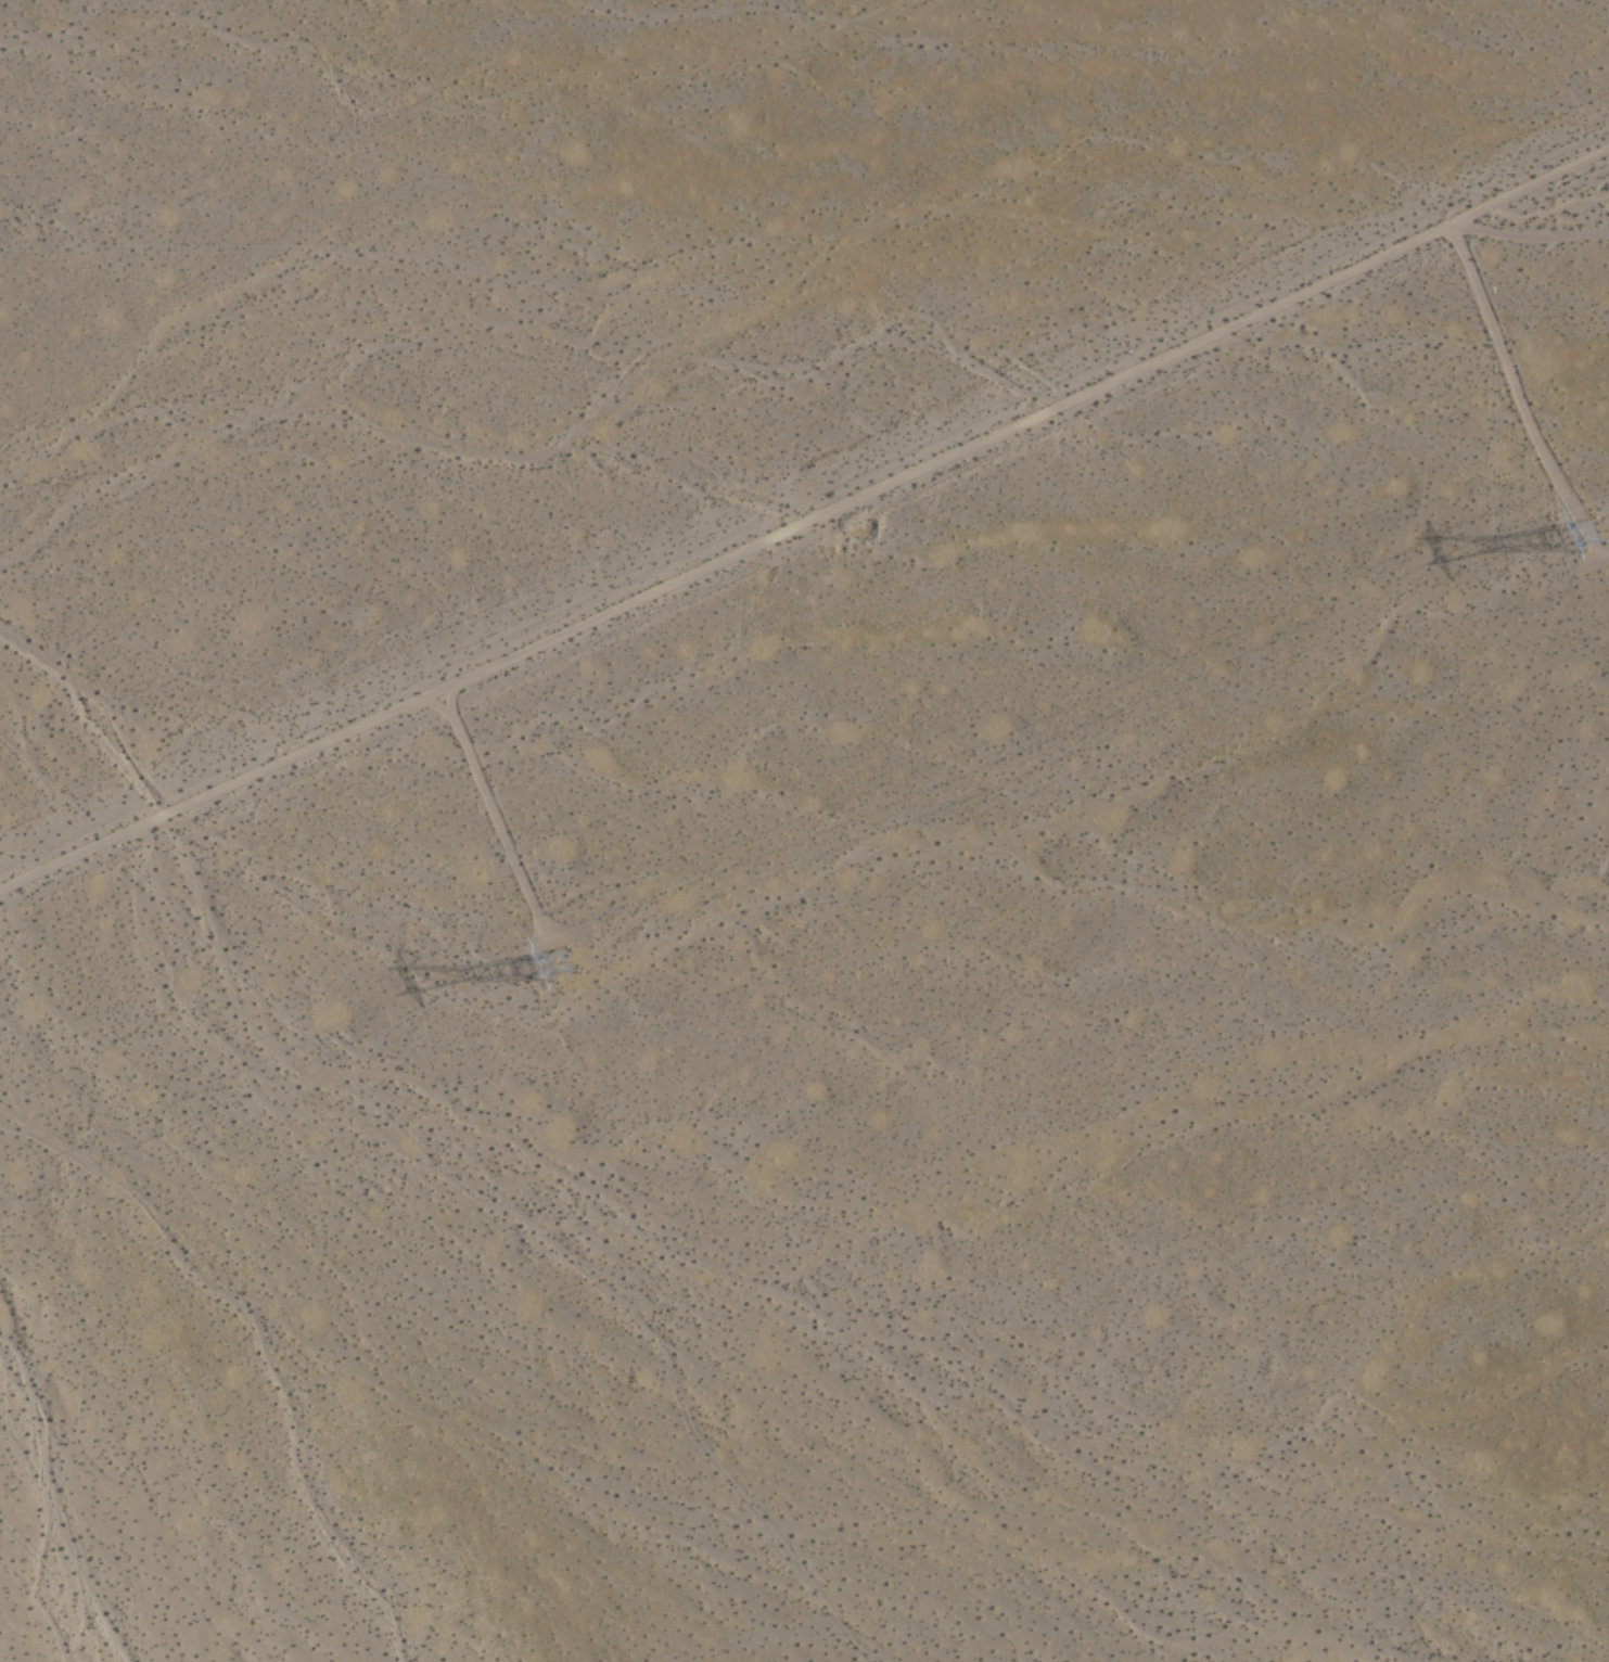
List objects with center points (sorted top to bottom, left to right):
road: (1540, 235)
power tower: (1586, 534)
road: (804, 535)
power tower: (571, 969)

